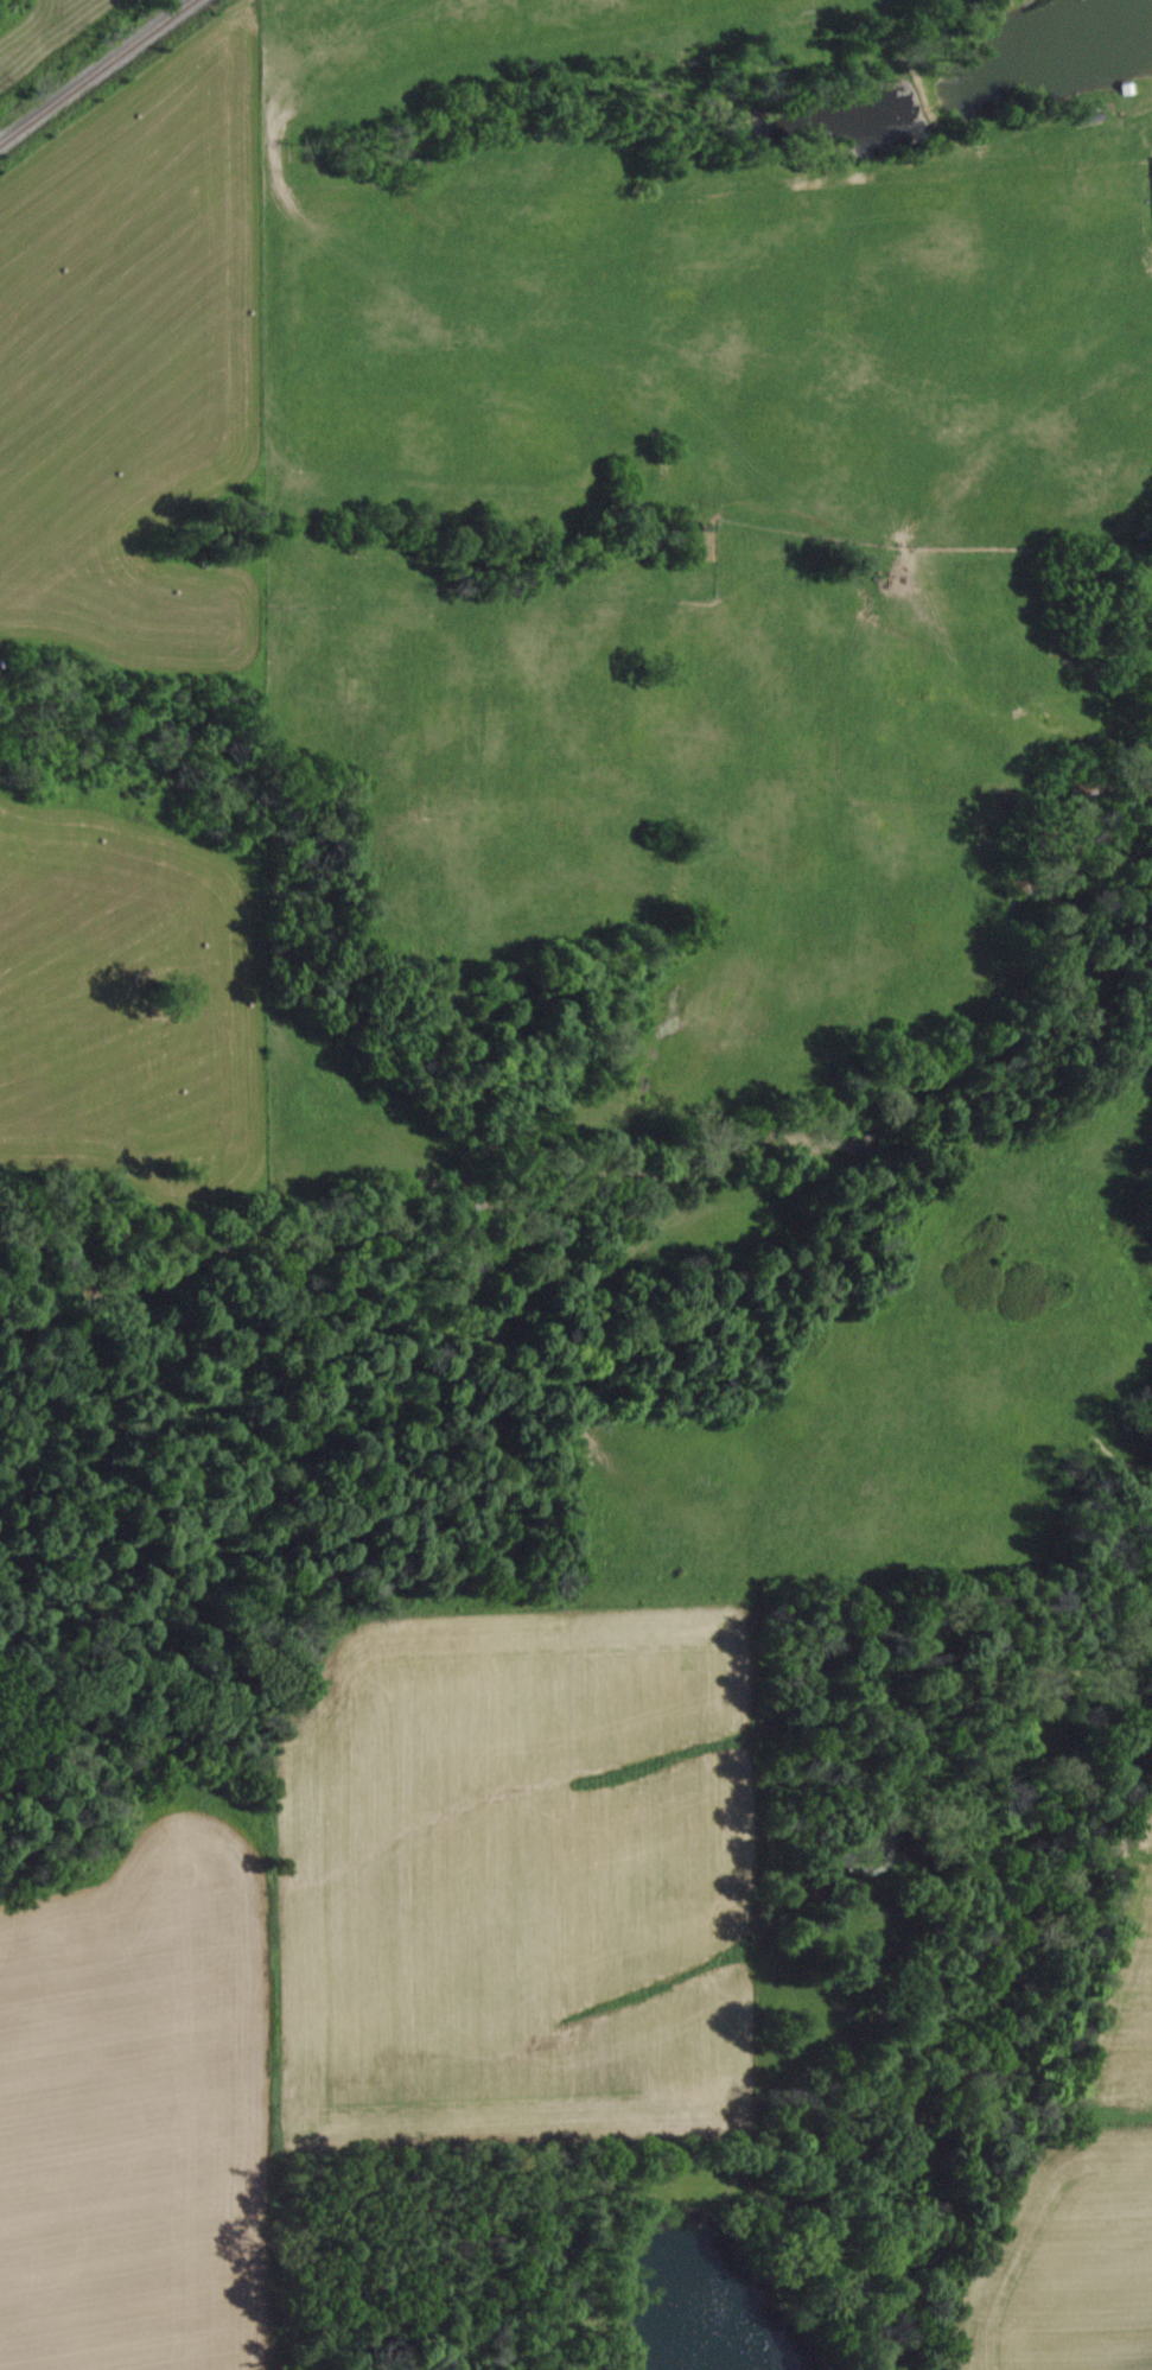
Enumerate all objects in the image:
railway: (96, 71)

